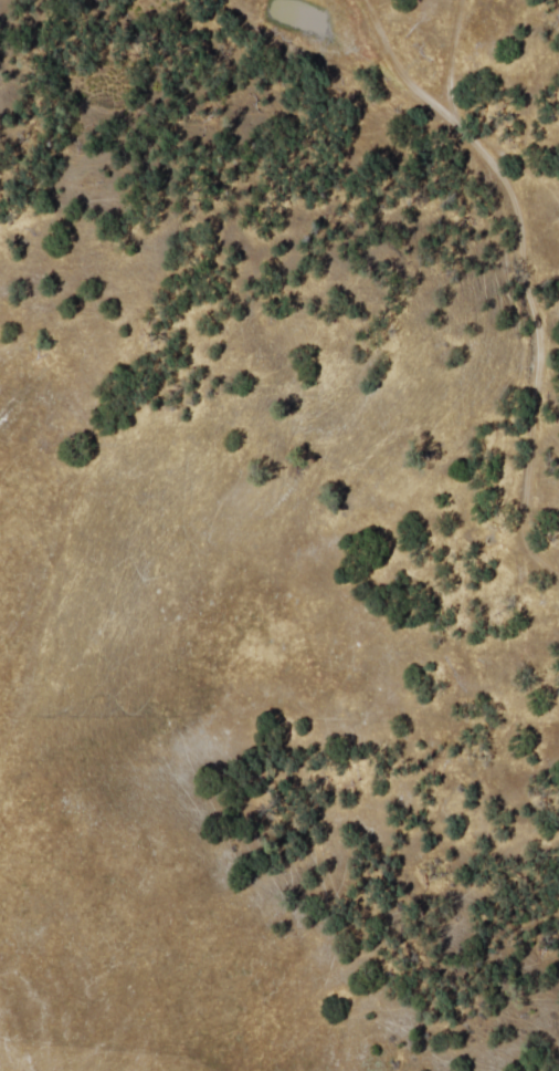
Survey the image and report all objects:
road: (505, 133)

